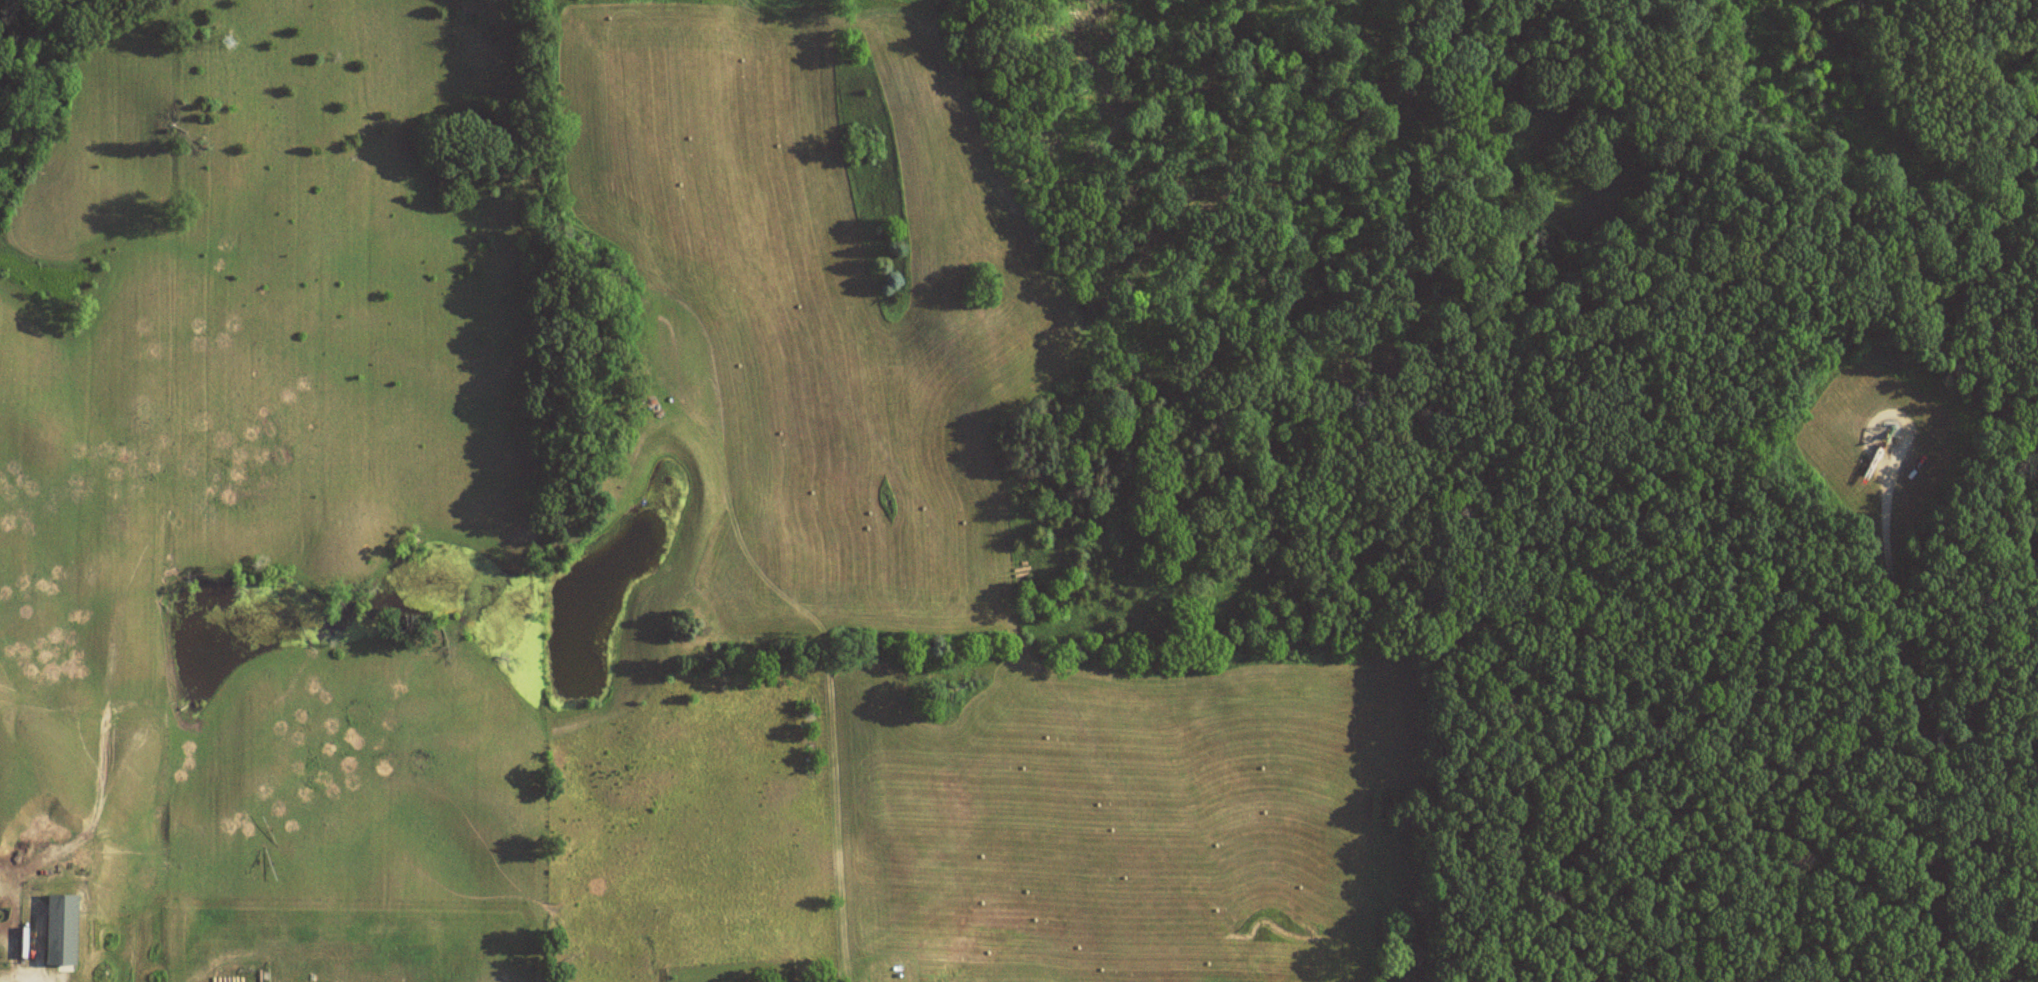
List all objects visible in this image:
building: (63, 929)

